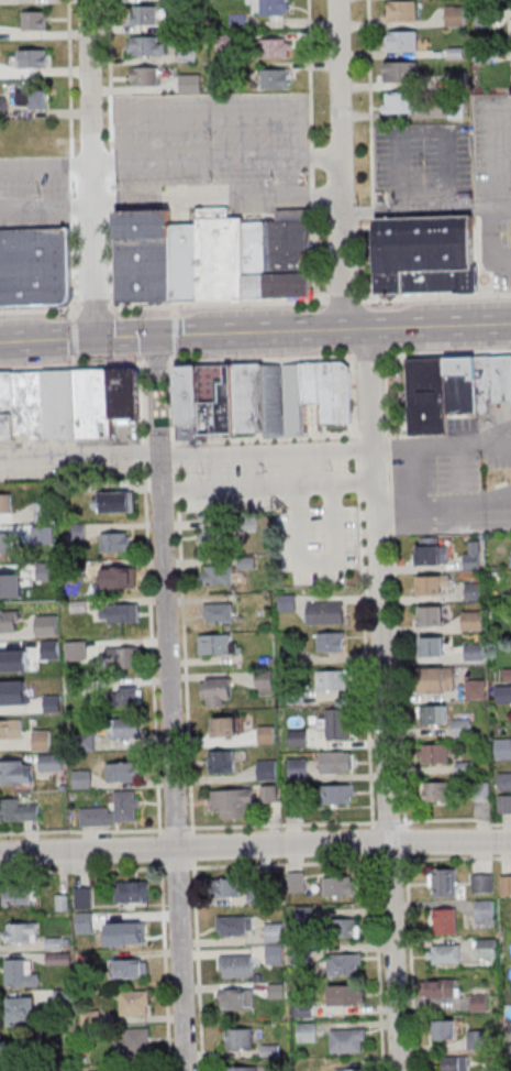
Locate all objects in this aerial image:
building: (271, 7)
building: (402, 10)
building: (144, 14)
building: (455, 15)
building: (34, 20)
building: (238, 21)
building: (401, 41)
building: (146, 45)
building: (277, 47)
building: (33, 57)
building: (402, 70)
road: (110, 73)
road: (310, 73)
building: (145, 75)
building: (275, 77)
road: (69, 78)
building: (190, 83)
building: (32, 98)
building: (402, 101)
building: (3, 106)
building: (456, 110)
road: (211, 120)
road: (422, 133)
parking lot: (211, 142)
parking lot: (492, 147)
road: (498, 147)
road: (370, 151)
road: (312, 156)
road: (112, 159)
road: (216, 159)
road: (71, 163)
parking lot: (423, 163)
road: (46, 166)
road: (342, 166)
road: (92, 171)
road: (312, 176)
road: (111, 184)
road: (71, 185)
parking lot: (34, 194)
road: (313, 196)
road: (170, 199)
road: (112, 201)
road: (73, 207)
road: (426, 209)
building: (143, 222)
road: (489, 243)
building: (420, 249)
parking lot: (497, 251)
road: (315, 252)
road: (113, 255)
building: (221, 255)
building: (277, 256)
road: (75, 261)
building: (35, 266)
building: (159, 266)
building: (464, 282)
building: (429, 283)
road: (435, 296)
road: (343, 297)
road: (219, 300)
road: (95, 306)
road: (38, 307)
street lamp: (188, 310)
road: (434, 327)
road: (256, 334)
traffic signals: (157, 339)
road: (127, 340)
traffic signals: (99, 341)
road: (48, 342)
road: (446, 351)
road: (367, 356)
road: (262, 359)
road: (156, 363)
road: (71, 365)
building: (458, 369)
building: (491, 383)
building: (312, 384)
road: (371, 389)
building: (336, 394)
building: (124, 395)
building: (457, 396)
road: (158, 397)
building: (188, 398)
building: (424, 398)
building: (249, 401)
building: (216, 402)
building: (285, 402)
building: (23, 405)
building: (88, 405)
building: (105, 405)
building: (38, 406)
building: (8, 407)
building: (62, 407)
building: (0, 429)
road: (255, 453)
parking lot: (495, 457)
parking lot: (437, 461)
road: (456, 465)
road: (412, 467)
parking lot: (70, 469)
road: (191, 473)
road: (268, 487)
building: (114, 501)
building: (5, 503)
building: (43, 511)
parking lot: (291, 513)
road: (444, 514)
building: (212, 536)
building: (115, 542)
building: (5, 544)
building: (432, 554)
building: (473, 555)
road: (319, 562)
building: (218, 575)
building: (119, 578)
building: (4, 581)
building: (431, 586)
building: (473, 591)
building: (121, 612)
building: (222, 612)
building: (325, 612)
building: (430, 616)
building: (471, 621)
building: (8, 623)
building: (331, 641)
building: (218, 644)
road: (381, 646)
building: (432, 646)
building: (474, 651)
building: (121, 656)
building: (8, 659)
building: (437, 678)
building: (332, 679)
building: (264, 681)
building: (476, 688)
building: (215, 691)
building: (3, 692)
building: (127, 696)
building: (433, 714)
building: (337, 723)
building: (125, 726)
building: (224, 726)
building: (462, 726)
building: (11, 729)
building: (266, 733)
building: (299, 737)
building: (41, 740)
building: (435, 753)
building: (222, 761)
building: (52, 762)
building: (336, 762)
road: (173, 764)
building: (299, 768)
building: (267, 771)
building: (16, 772)
building: (126, 772)
building: (504, 780)
building: (435, 790)
building: (270, 793)
building: (337, 796)
building: (233, 801)
building: (503, 804)
building: (19, 809)
building: (114, 810)
road: (449, 842)
road: (193, 846)
road: (255, 864)
building: (445, 882)
building: (484, 882)
building: (507, 884)
building: (338, 886)
building: (229, 887)
building: (133, 890)
building: (19, 895)
building: (485, 912)
building: (444, 920)
building: (236, 925)
building: (346, 928)
building: (22, 931)
building: (275, 931)
building: (487, 948)
building: (444, 953)
road: (393, 957)
building: (60, 958)
building: (345, 963)
building: (236, 965)
road: (379, 966)
building: (131, 968)
building: (21, 974)
building: (443, 987)
building: (348, 994)
building: (236, 999)
building: (134, 1004)
building: (22, 1012)
building: (444, 1029)
building: (307, 1031)
building: (240, 1038)
building: (348, 1040)
building: (135, 1041)
building: (453, 1065)
building: (242, 1068)
building: (351, 1069)

